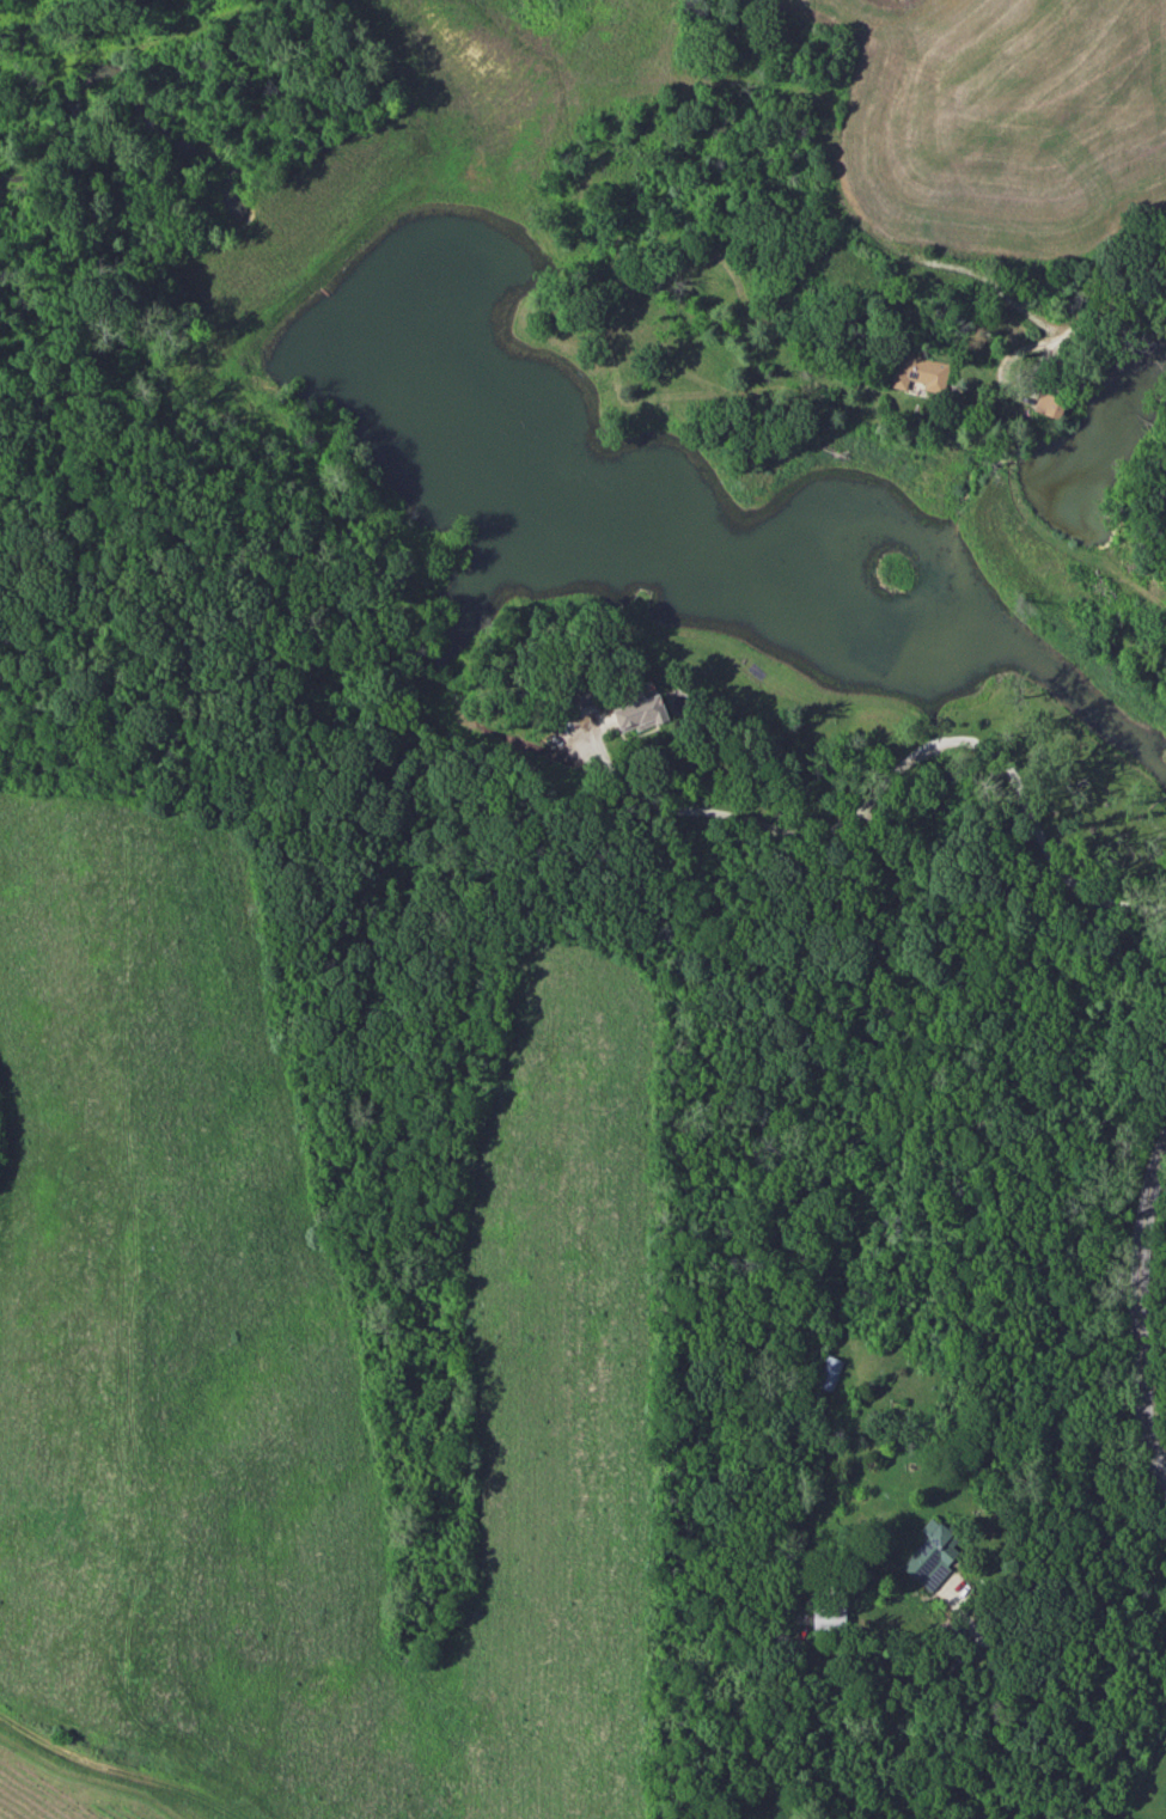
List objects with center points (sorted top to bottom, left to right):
road: (1105, 301)
building: (917, 373)
building: (1049, 404)
building: (640, 713)
road: (905, 763)
road: (1146, 1307)
building: (828, 1372)
road: (1165, 1472)
building: (930, 1554)
road: (1101, 1600)
building: (825, 1617)

